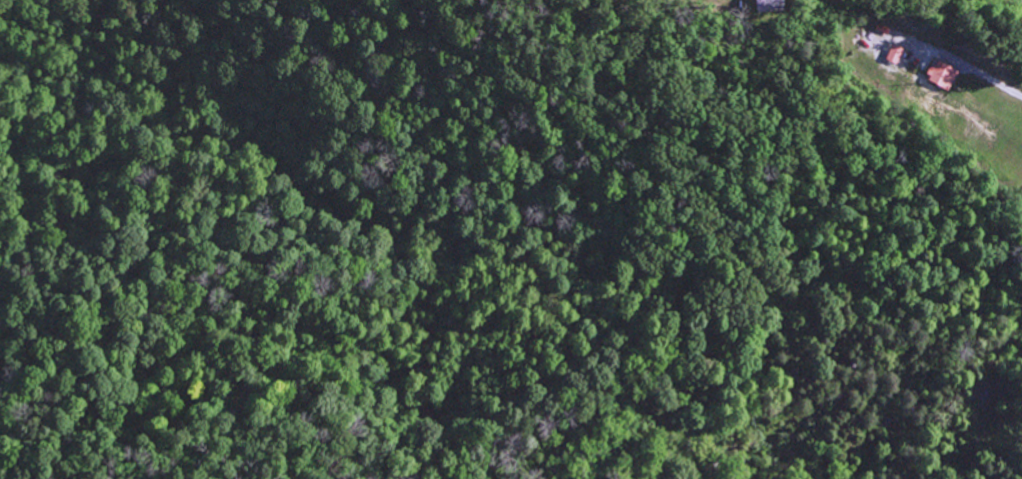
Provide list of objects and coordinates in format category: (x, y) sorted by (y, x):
building: (764, 6)
building: (891, 54)
road: (979, 74)
building: (939, 75)

